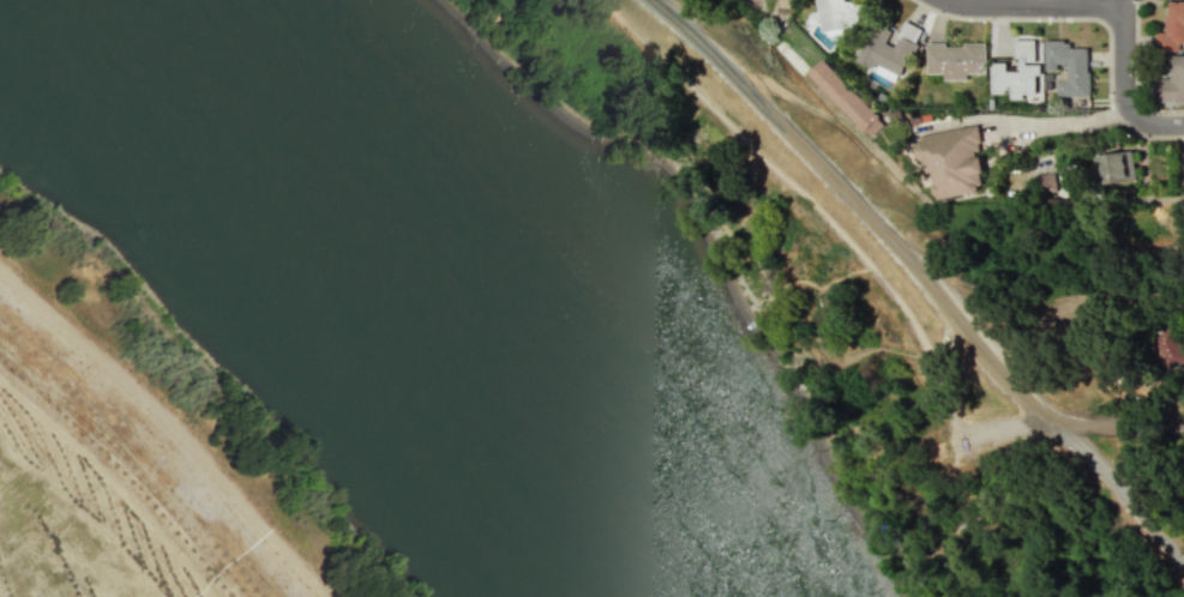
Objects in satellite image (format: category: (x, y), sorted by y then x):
road: (1122, 4)
road: (1030, 8)
building: (839, 16)
building: (1172, 26)
building: (888, 50)
building: (955, 60)
building: (1069, 67)
building: (1017, 72)
building: (1172, 82)
road: (1122, 89)
building: (846, 98)
road: (1063, 122)
building: (952, 158)
building: (1114, 167)
building: (1182, 167)
building: (1054, 189)
river: (467, 263)
road: (922, 277)
building: (1170, 349)
road: (164, 433)

